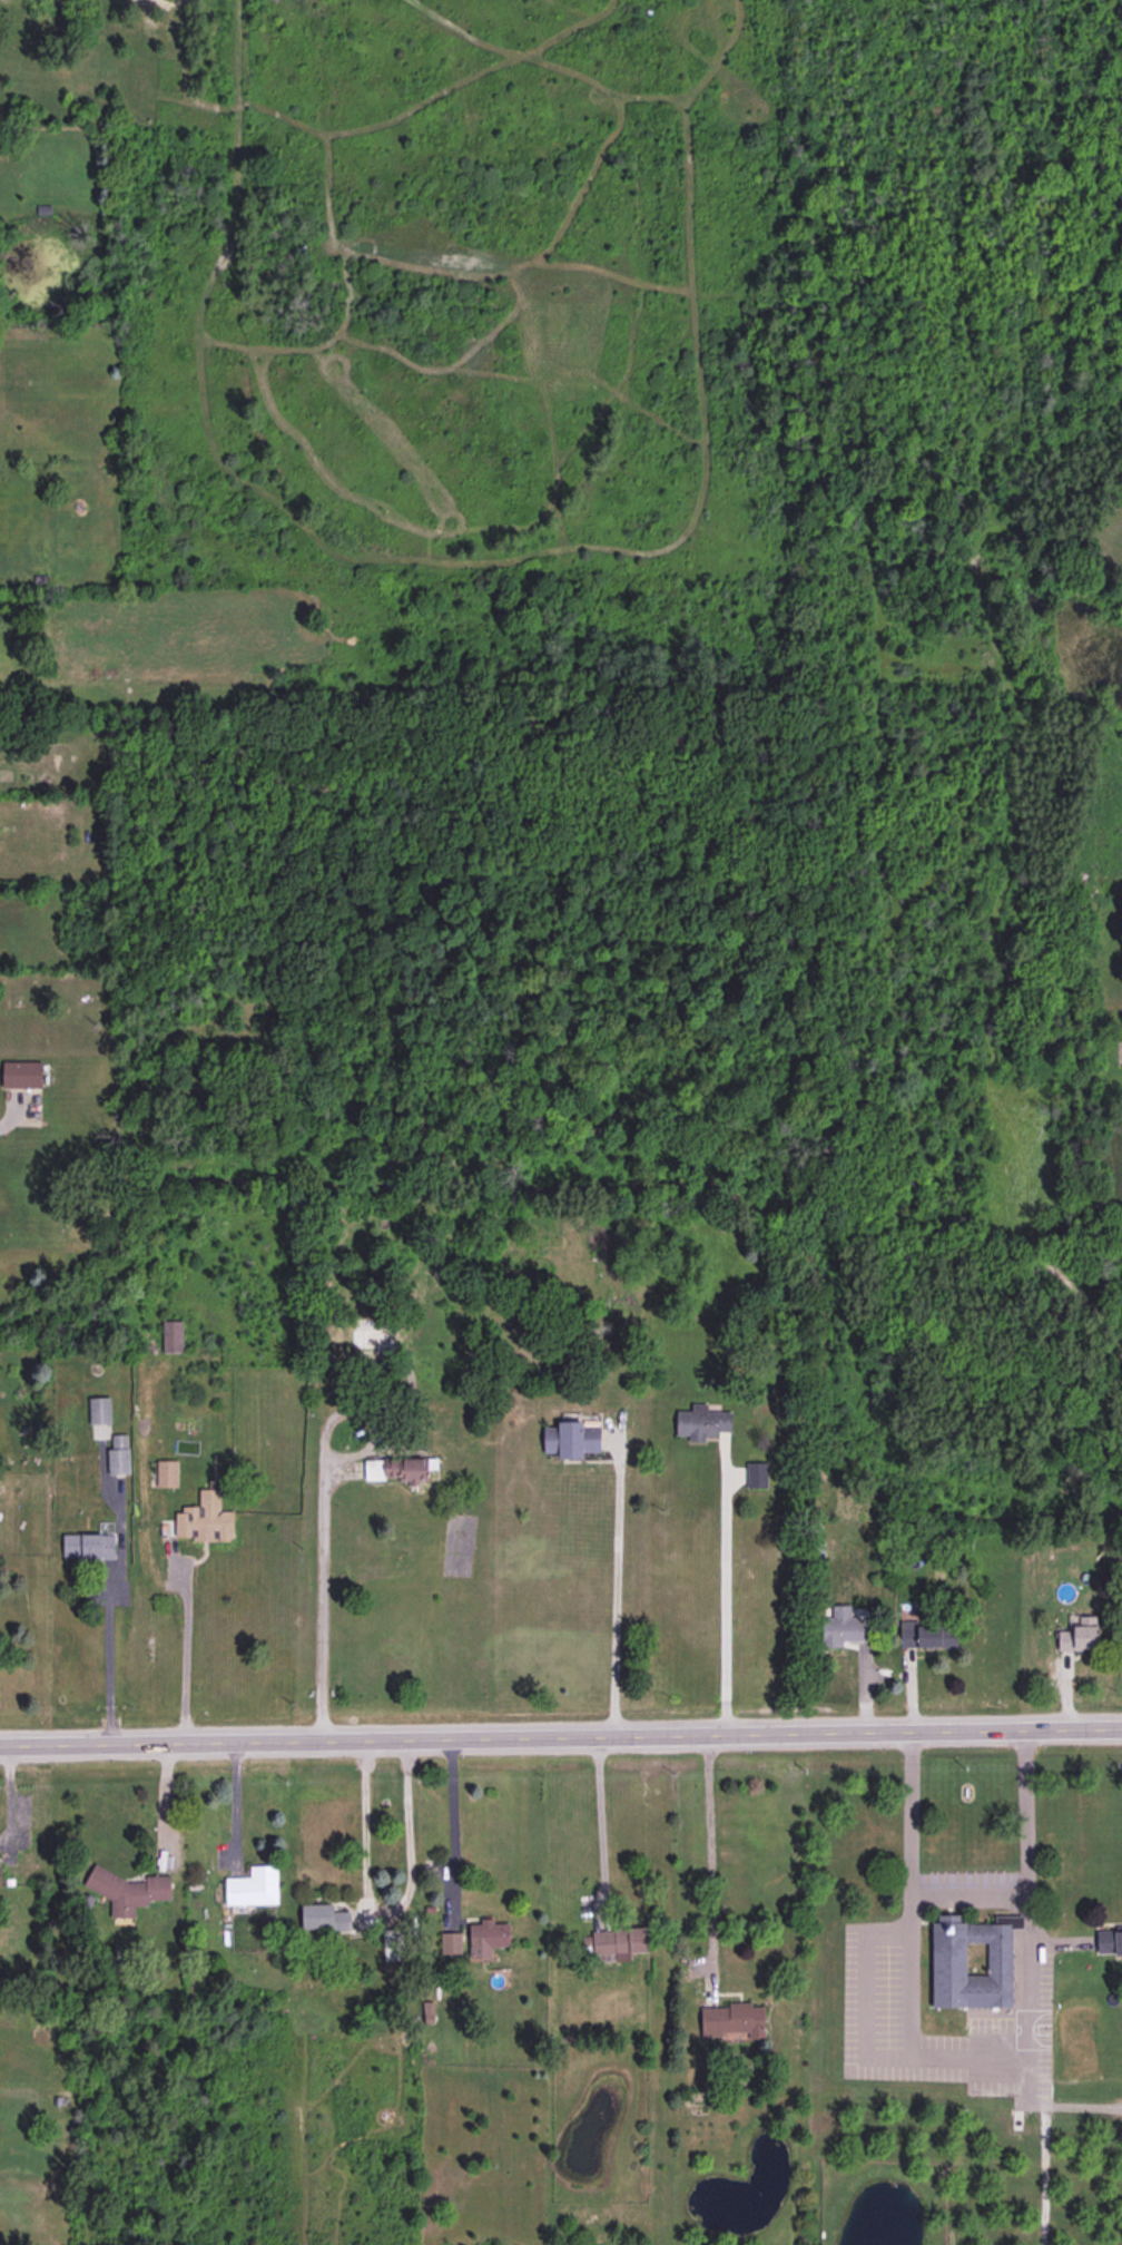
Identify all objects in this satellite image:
building: (22, 1072)
building: (372, 1337)
building: (702, 1422)
building: (579, 1442)
building: (119, 1454)
building: (398, 1469)
road: (324, 1513)
building: (206, 1519)
road: (613, 1591)
road: (722, 1609)
building: (841, 1626)
building: (927, 1635)
road: (185, 1653)
road: (107, 1656)
road: (561, 1736)
road: (11, 1796)
road: (165, 1806)
road: (235, 1806)
road: (452, 1830)
road: (601, 1830)
road: (710, 1861)
building: (0, 1875)
building: (254, 1886)
building: (128, 1890)
road: (968, 1896)
road: (386, 1911)
building: (324, 1916)
building: (488, 1937)
building: (620, 1941)
building: (1109, 1941)
building: (451, 1942)
building: (394, 1943)
building: (973, 1961)
road: (865, 1993)
building: (735, 2019)
road: (966, 2055)
road: (1047, 2104)
road: (1044, 2174)

